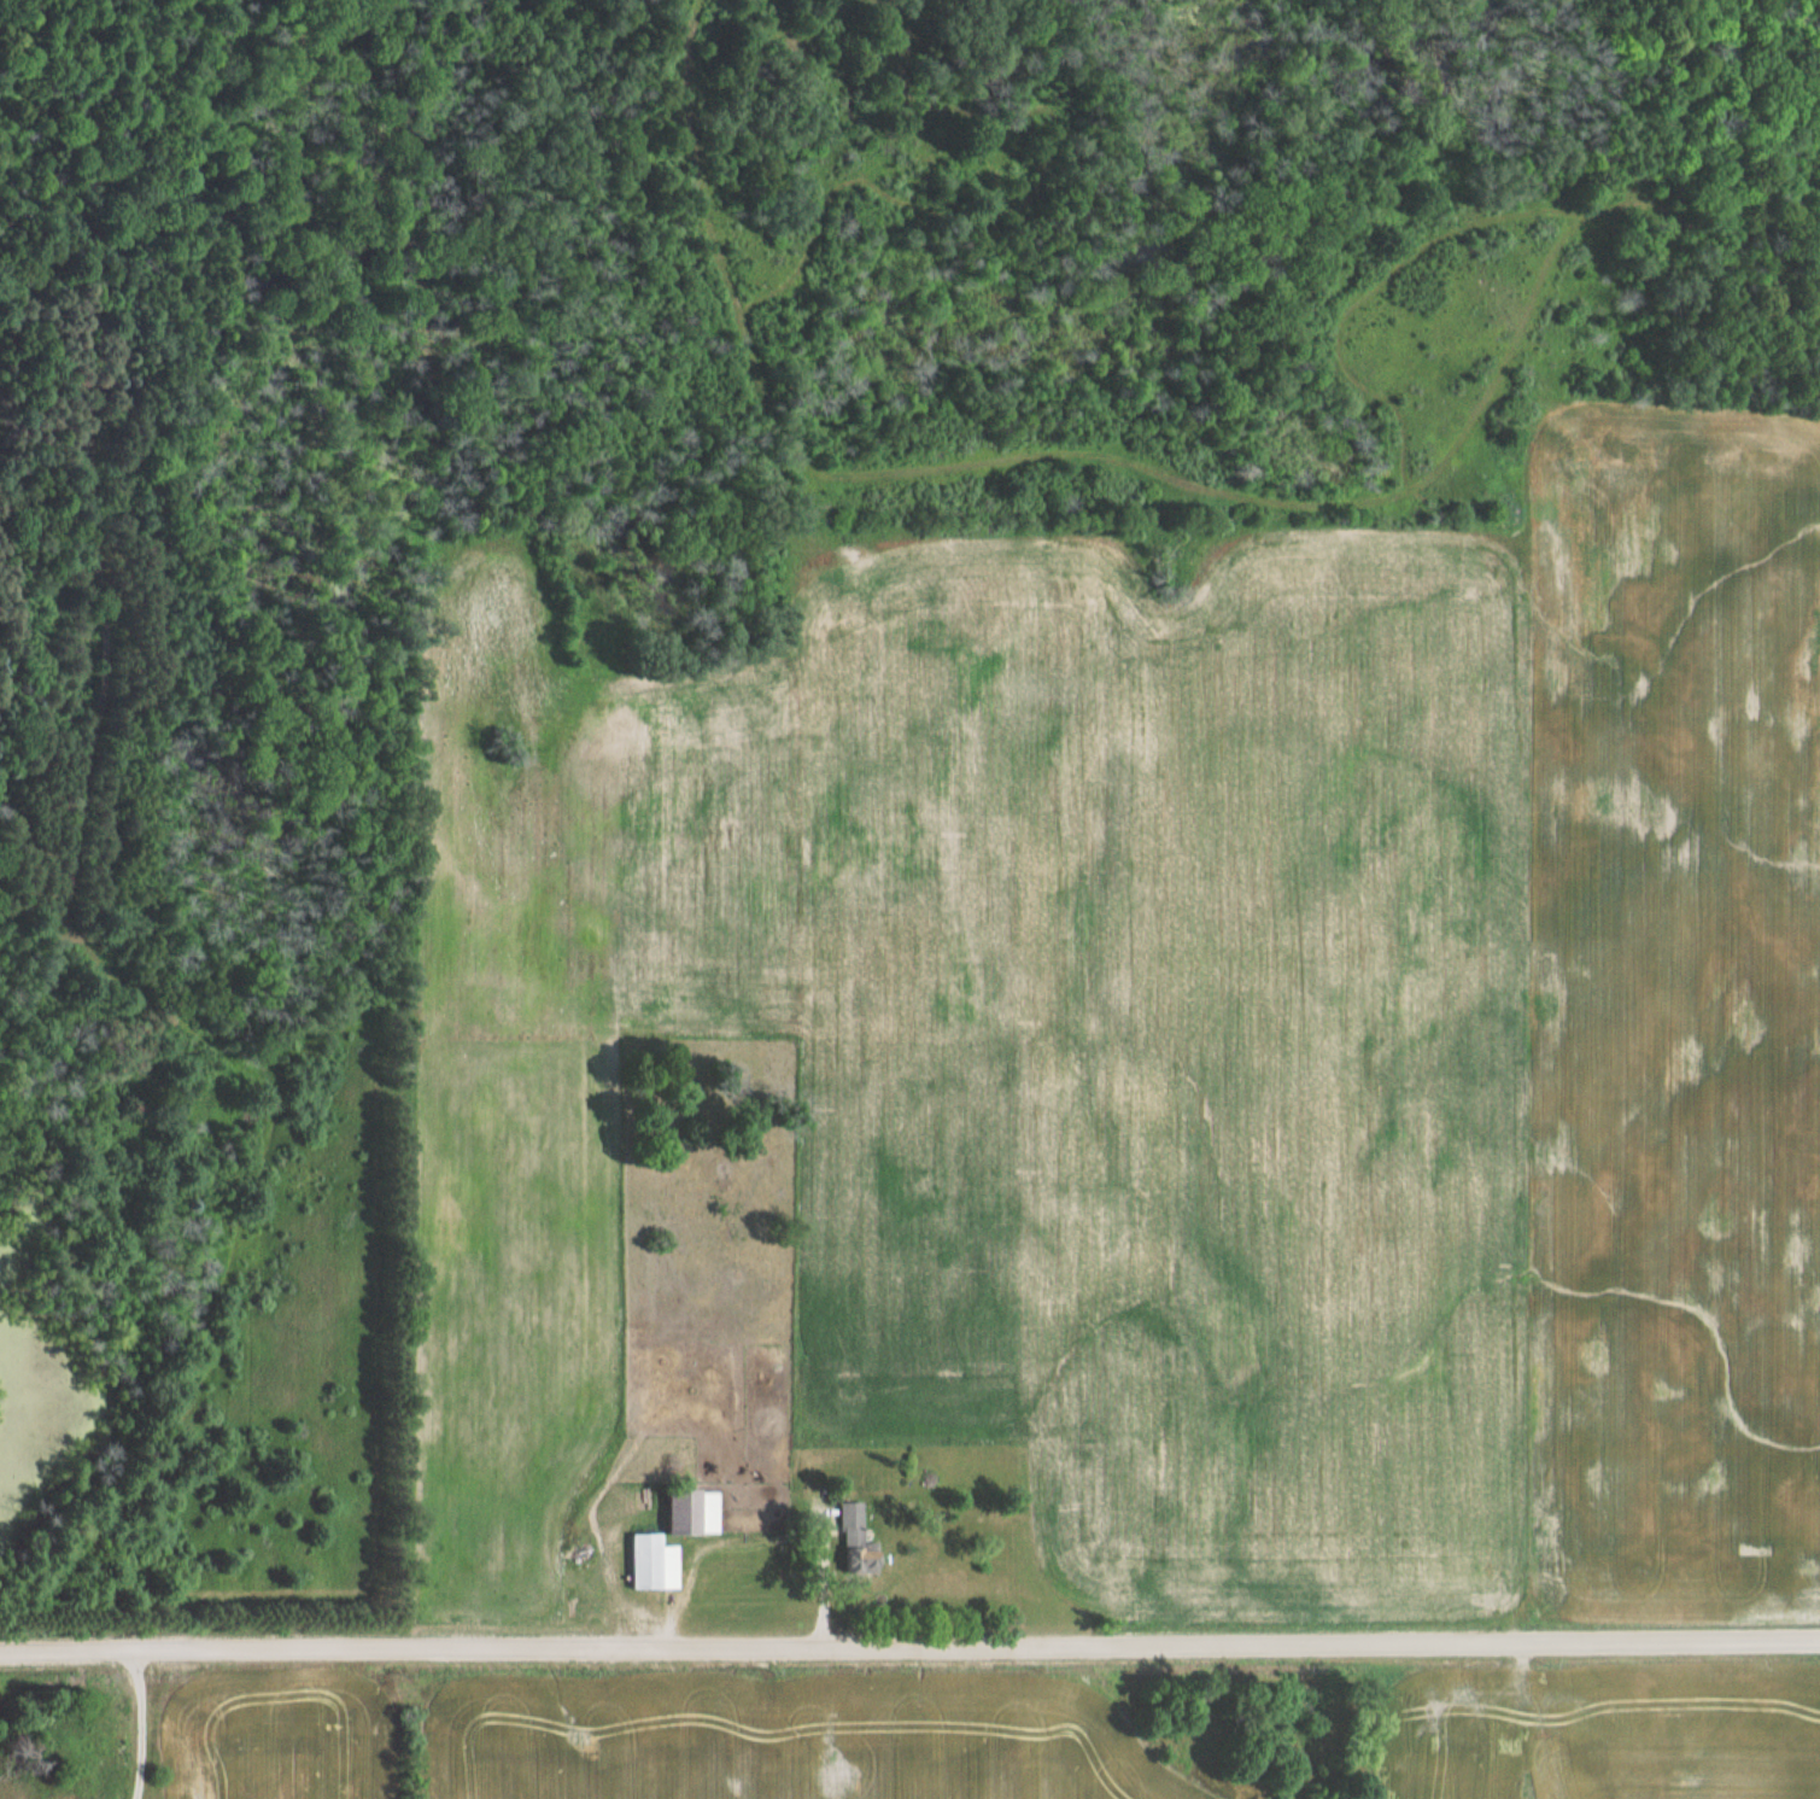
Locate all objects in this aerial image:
building: (679, 1513)
building: (849, 1543)
building: (643, 1564)
road: (909, 1647)

